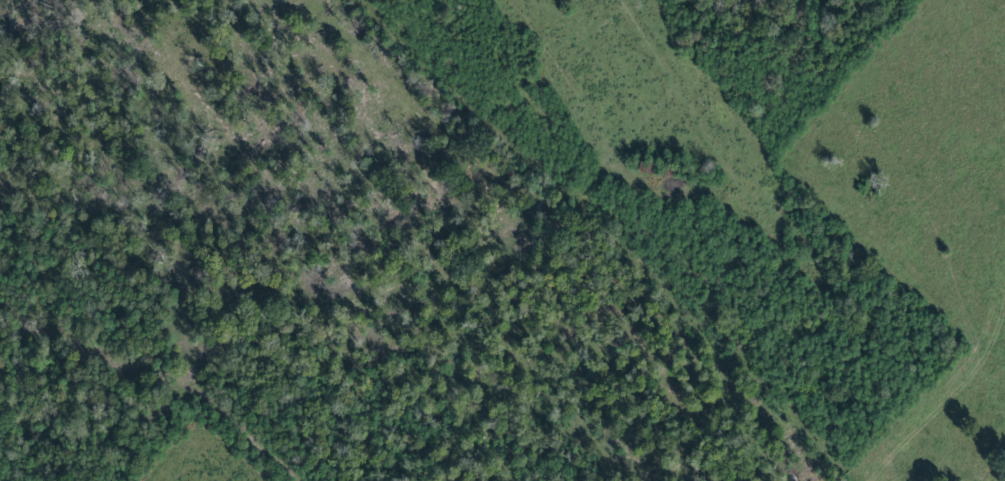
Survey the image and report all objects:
road: (698, 113)

